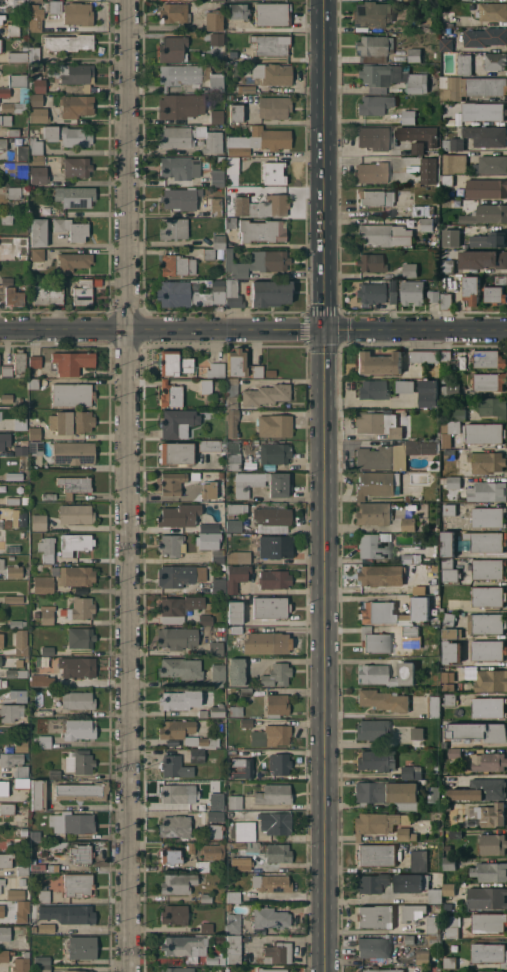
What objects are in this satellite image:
building: (410, 0)
building: (2, 1)
building: (19, 6)
building: (55, 6)
building: (238, 11)
building: (492, 11)
building: (174, 12)
building: (78, 13)
building: (272, 13)
building: (372, 13)
building: (35, 16)
building: (2, 17)
building: (213, 19)
building: (425, 24)
building: (13, 29)
building: (485, 37)
building: (216, 38)
building: (446, 39)
building: (69, 42)
building: (1, 44)
building: (270, 44)
building: (25, 47)
building: (374, 48)
building: (172, 49)
building: (34, 53)
building: (415, 55)
building: (17, 56)
building: (496, 66)
building: (72, 72)
building: (269, 73)
building: (179, 74)
building: (391, 78)
building: (17, 80)
building: (216, 83)
building: (42, 85)
building: (471, 86)
building: (244, 88)
building: (5, 92)
building: (230, 96)
building: (35, 100)
building: (17, 102)
building: (374, 104)
building: (76, 105)
building: (180, 105)
building: (274, 107)
building: (483, 111)
building: (38, 114)
building: (234, 114)
building: (216, 116)
building: (408, 117)
building: (6, 119)
building: (13, 131)
building: (419, 133)
building: (68, 135)
building: (372, 137)
building: (478, 137)
building: (190, 138)
building: (263, 140)
building: (2, 143)
building: (35, 146)
building: (418, 148)
building: (20, 152)
building: (220, 158)
building: (36, 159)
building: (454, 163)
building: (230, 164)
building: (491, 164)
building: (77, 166)
building: (180, 167)
building: (17, 168)
building: (429, 170)
building: (371, 172)
building: (273, 173)
building: (39, 174)
building: (216, 177)
building: (448, 180)
building: (487, 188)
building: (25, 190)
building: (14, 192)
building: (75, 196)
building: (376, 197)
building: (181, 198)
building: (261, 205)
building: (216, 206)
building: (36, 210)
building: (422, 210)
building: (228, 214)
building: (486, 214)
building: (7, 217)
building: (230, 222)
building: (427, 224)
building: (71, 228)
building: (173, 228)
building: (262, 230)
building: (38, 231)
building: (385, 234)
building: (489, 239)
building: (218, 241)
building: (6, 251)
building: (448, 252)
building: (208, 253)
building: (37, 254)
building: (483, 258)
building: (73, 261)
building: (371, 262)
building: (177, 265)
building: (448, 266)
building: (410, 269)
building: (228, 278)
building: (7, 280)
building: (472, 289)
building: (497, 290)
building: (83, 292)
building: (371, 292)
building: (413, 292)
building: (270, 293)
building: (47, 294)
building: (177, 294)
building: (13, 296)
building: (218, 296)
building: (434, 296)
building: (392, 297)
building: (446, 301)
road: (253, 326)
traffic signals: (325, 327)
building: (425, 355)
building: (448, 355)
building: (489, 359)
building: (34, 360)
building: (19, 361)
building: (72, 362)
building: (379, 362)
building: (173, 363)
building: (241, 363)
building: (215, 369)
building: (6, 371)
building: (490, 381)
building: (32, 383)
building: (205, 386)
building: (405, 386)
building: (373, 389)
building: (451, 390)
building: (231, 393)
building: (428, 393)
building: (72, 394)
building: (170, 394)
building: (265, 394)
building: (6, 397)
road: (366, 404)
building: (494, 407)
building: (459, 414)
building: (0, 415)
building: (71, 421)
building: (231, 422)
building: (20, 423)
building: (177, 423)
building: (382, 423)
building: (275, 425)
building: (452, 428)
building: (34, 433)
building: (484, 433)
building: (4, 439)
building: (209, 445)
building: (36, 447)
building: (20, 450)
building: (73, 452)
building: (176, 453)
building: (274, 453)
building: (450, 453)
building: (233, 454)
building: (394, 454)
building: (487, 461)
building: (220, 474)
building: (13, 476)
building: (172, 482)
building: (248, 482)
building: (454, 482)
building: (278, 484)
building: (376, 484)
building: (74, 485)
road: (128, 485)
road: (325, 485)
building: (209, 490)
building: (488, 491)
building: (48, 496)
building: (12, 500)
building: (25, 500)
building: (235, 509)
building: (449, 509)
building: (79, 513)
building: (373, 513)
building: (179, 515)
building: (272, 515)
building: (488, 517)
building: (22, 518)
building: (39, 521)
building: (6, 524)
building: (408, 524)
building: (233, 525)
building: (209, 527)
building: (22, 534)
building: (486, 541)
building: (75, 543)
building: (448, 543)
building: (171, 545)
building: (211, 545)
building: (374, 545)
building: (275, 546)
building: (46, 549)
building: (238, 556)
building: (411, 558)
building: (2, 563)
building: (414, 567)
building: (435, 567)
building: (489, 569)
building: (450, 570)
building: (14, 572)
building: (380, 574)
building: (75, 575)
building: (175, 575)
building: (236, 576)
building: (274, 579)
building: (44, 584)
building: (217, 585)
building: (488, 596)
building: (13, 599)
building: (80, 607)
building: (179, 607)
building: (270, 607)
building: (235, 611)
building: (376, 612)
building: (46, 613)
building: (449, 618)
building: (205, 619)
building: (17, 623)
building: (486, 623)
building: (236, 629)
building: (411, 631)
building: (452, 633)
building: (80, 637)
building: (177, 637)
building: (1, 640)
building: (374, 640)
building: (21, 642)
building: (266, 642)
building: (216, 648)
building: (47, 650)
building: (488, 650)
building: (452, 651)
building: (0, 660)
building: (78, 667)
building: (181, 668)
building: (236, 671)
building: (15, 673)
building: (276, 674)
building: (218, 675)
building: (372, 675)
building: (41, 680)
building: (491, 680)
building: (449, 686)
building: (49, 691)
building: (244, 691)
building: (20, 695)
building: (180, 699)
building: (450, 699)
building: (77, 700)
building: (383, 700)
building: (276, 705)
building: (434, 706)
building: (489, 706)
building: (216, 710)
building: (234, 710)
building: (10, 712)
building: (202, 713)
building: (245, 722)
building: (219, 726)
building: (79, 728)
building: (176, 728)
building: (370, 729)
building: (478, 731)
building: (271, 735)
building: (418, 737)
building: (44, 741)
building: (207, 741)
building: (451, 744)
building: (21, 745)
building: (455, 752)
building: (197, 755)
building: (375, 759)
building: (79, 761)
building: (489, 761)
building: (279, 763)
building: (170, 765)
building: (7, 766)
building: (242, 767)
building: (411, 772)
building: (54, 774)
building: (21, 783)
building: (3, 788)
building: (482, 790)
building: (82, 791)
building: (178, 793)
building: (387, 793)
building: (38, 794)
building: (273, 794)
building: (433, 794)
building: (19, 798)
building: (216, 801)
building: (234, 802)
building: (448, 805)
building: (6, 808)
building: (491, 814)
building: (214, 815)
building: (72, 822)
building: (276, 822)
building: (377, 823)
building: (175, 826)
building: (244, 830)
building: (21, 831)
building: (213, 831)
building: (455, 833)
building: (406, 834)
building: (35, 836)
building: (24, 843)
building: (493, 844)
building: (7, 846)
building: (190, 847)
building: (263, 850)
building: (212, 851)
building: (81, 853)
building: (375, 854)
building: (169, 856)
building: (6, 859)
building: (419, 860)
building: (240, 863)
building: (450, 863)
building: (203, 865)
building: (53, 867)
building: (35, 868)
building: (22, 869)
building: (490, 871)
building: (271, 882)
building: (371, 882)
building: (2, 883)
building: (177, 883)
building: (77, 884)
building: (418, 885)
building: (449, 889)
building: (15, 894)
building: (43, 894)
building: (233, 896)
building: (205, 897)
building: (486, 897)
building: (15, 904)
building: (448, 906)
building: (0, 909)
building: (21, 911)
building: (33, 911)
building: (413, 911)
building: (67, 913)
building: (174, 914)
building: (375, 916)
building: (270, 918)
building: (489, 922)
building: (232, 923)
building: (434, 925)
building: (453, 926)
building: (46, 927)
building: (206, 927)
building: (33, 929)
building: (5, 933)
building: (433, 938)
building: (217, 939)
building: (410, 939)
building: (186, 945)
building: (373, 946)
building: (82, 947)
building: (233, 948)
building: (277, 952)
building: (489, 953)
building: (5, 954)
building: (423, 957)
building: (42, 959)
building: (214, 959)
building: (450, 962)
building: (21, 963)
building: (44, 968)
building: (176, 969)
building: (272, 969)
building: (76, 970)
building: (382, 970)
building: (491, 971)

